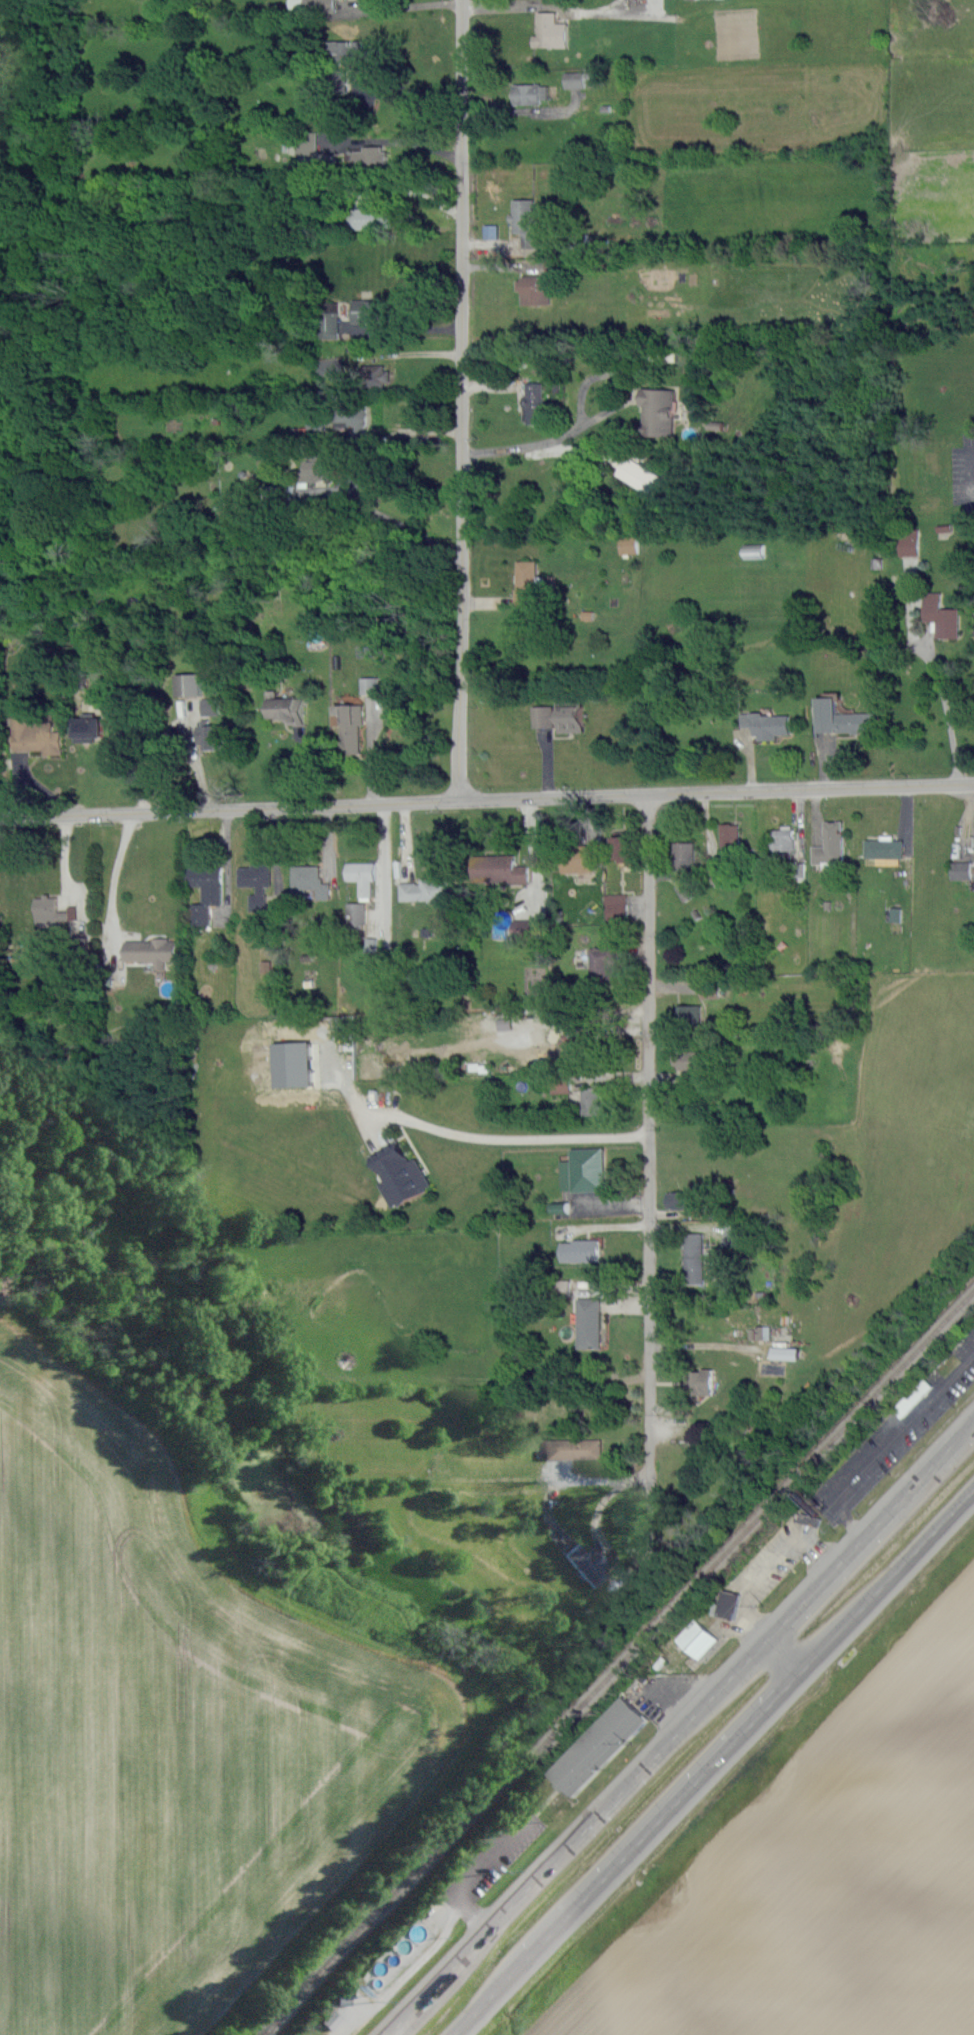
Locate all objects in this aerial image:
road: (408, 5)
building: (550, 31)
building: (355, 53)
building: (340, 79)
building: (575, 80)
road: (414, 89)
building: (528, 93)
road: (524, 110)
building: (307, 145)
building: (371, 157)
building: (369, 217)
building: (526, 223)
building: (535, 289)
building: (369, 311)
building: (331, 324)
building: (331, 365)
building: (374, 376)
road: (461, 400)
building: (533, 403)
building: (658, 410)
road: (598, 414)
building: (352, 418)
building: (316, 429)
building: (318, 468)
road: (972, 474)
road: (399, 522)
building: (909, 542)
building: (628, 545)
building: (754, 551)
building: (527, 583)
building: (941, 616)
building: (189, 684)
building: (370, 686)
building: (210, 706)
building: (285, 708)
road: (946, 712)
building: (543, 716)
building: (572, 716)
building: (842, 718)
building: (766, 724)
building: (88, 727)
building: (351, 727)
building: (212, 735)
building: (37, 736)
road: (487, 799)
building: (729, 837)
building: (782, 839)
building: (623, 845)
building: (829, 848)
building: (883, 848)
building: (577, 858)
building: (684, 858)
building: (498, 869)
building: (962, 870)
road: (116, 871)
building: (362, 875)
building: (308, 882)
building: (256, 884)
building: (428, 889)
building: (686, 890)
building: (206, 891)
building: (616, 907)
building: (52, 912)
building: (356, 915)
building: (152, 951)
building: (603, 966)
building: (689, 1014)
building: (579, 1037)
building: (693, 1059)
building: (563, 1088)
building: (597, 1103)
road: (648, 1133)
road: (514, 1139)
building: (583, 1170)
building: (401, 1172)
building: (682, 1200)
building: (733, 1235)
building: (580, 1251)
building: (693, 1257)
building: (590, 1322)
building: (786, 1353)
building: (699, 1382)
building: (915, 1396)
road: (891, 1443)
building: (572, 1449)
building: (810, 1520)
building: (584, 1561)
road: (621, 1561)
road: (769, 1567)
building: (726, 1604)
building: (698, 1639)
railway: (619, 1662)
road: (680, 1727)
building: (598, 1746)
road: (713, 1762)
road: (472, 1878)
building: (330, 2020)

